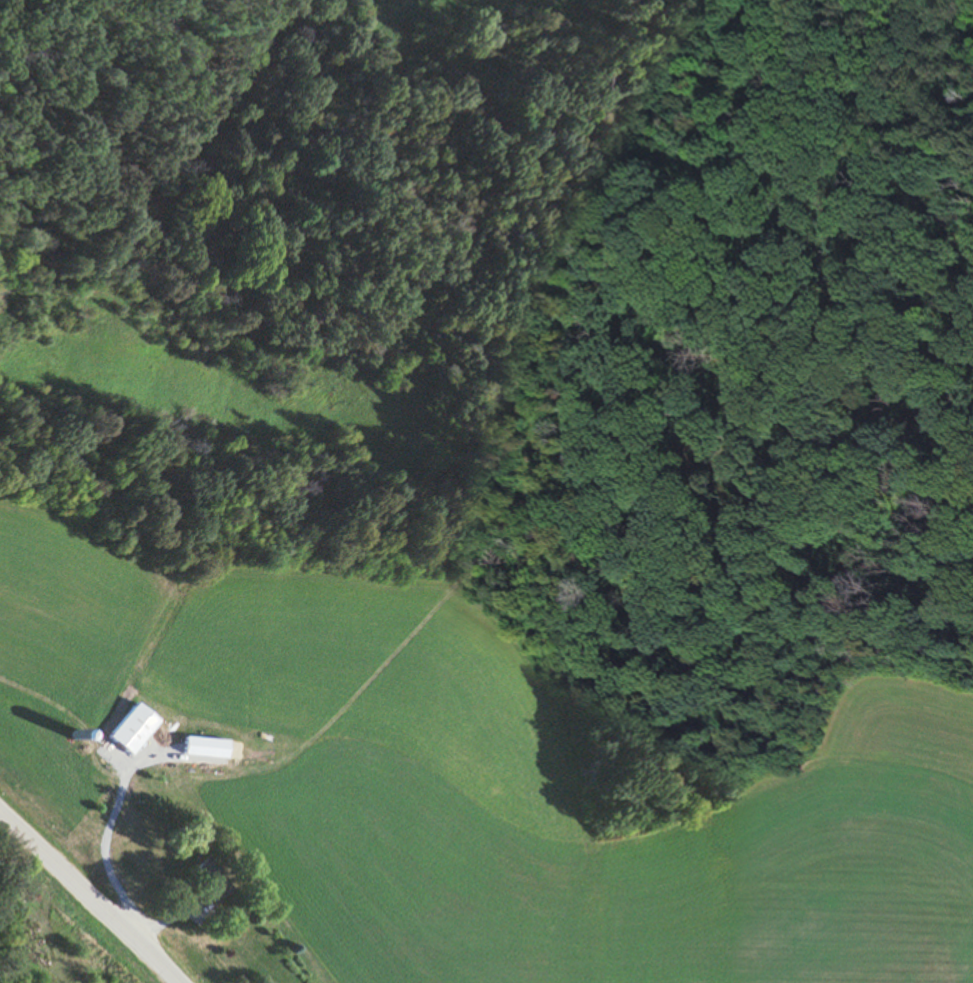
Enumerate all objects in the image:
building: (128, 729)
building: (201, 748)
building: (205, 880)
road: (88, 899)

